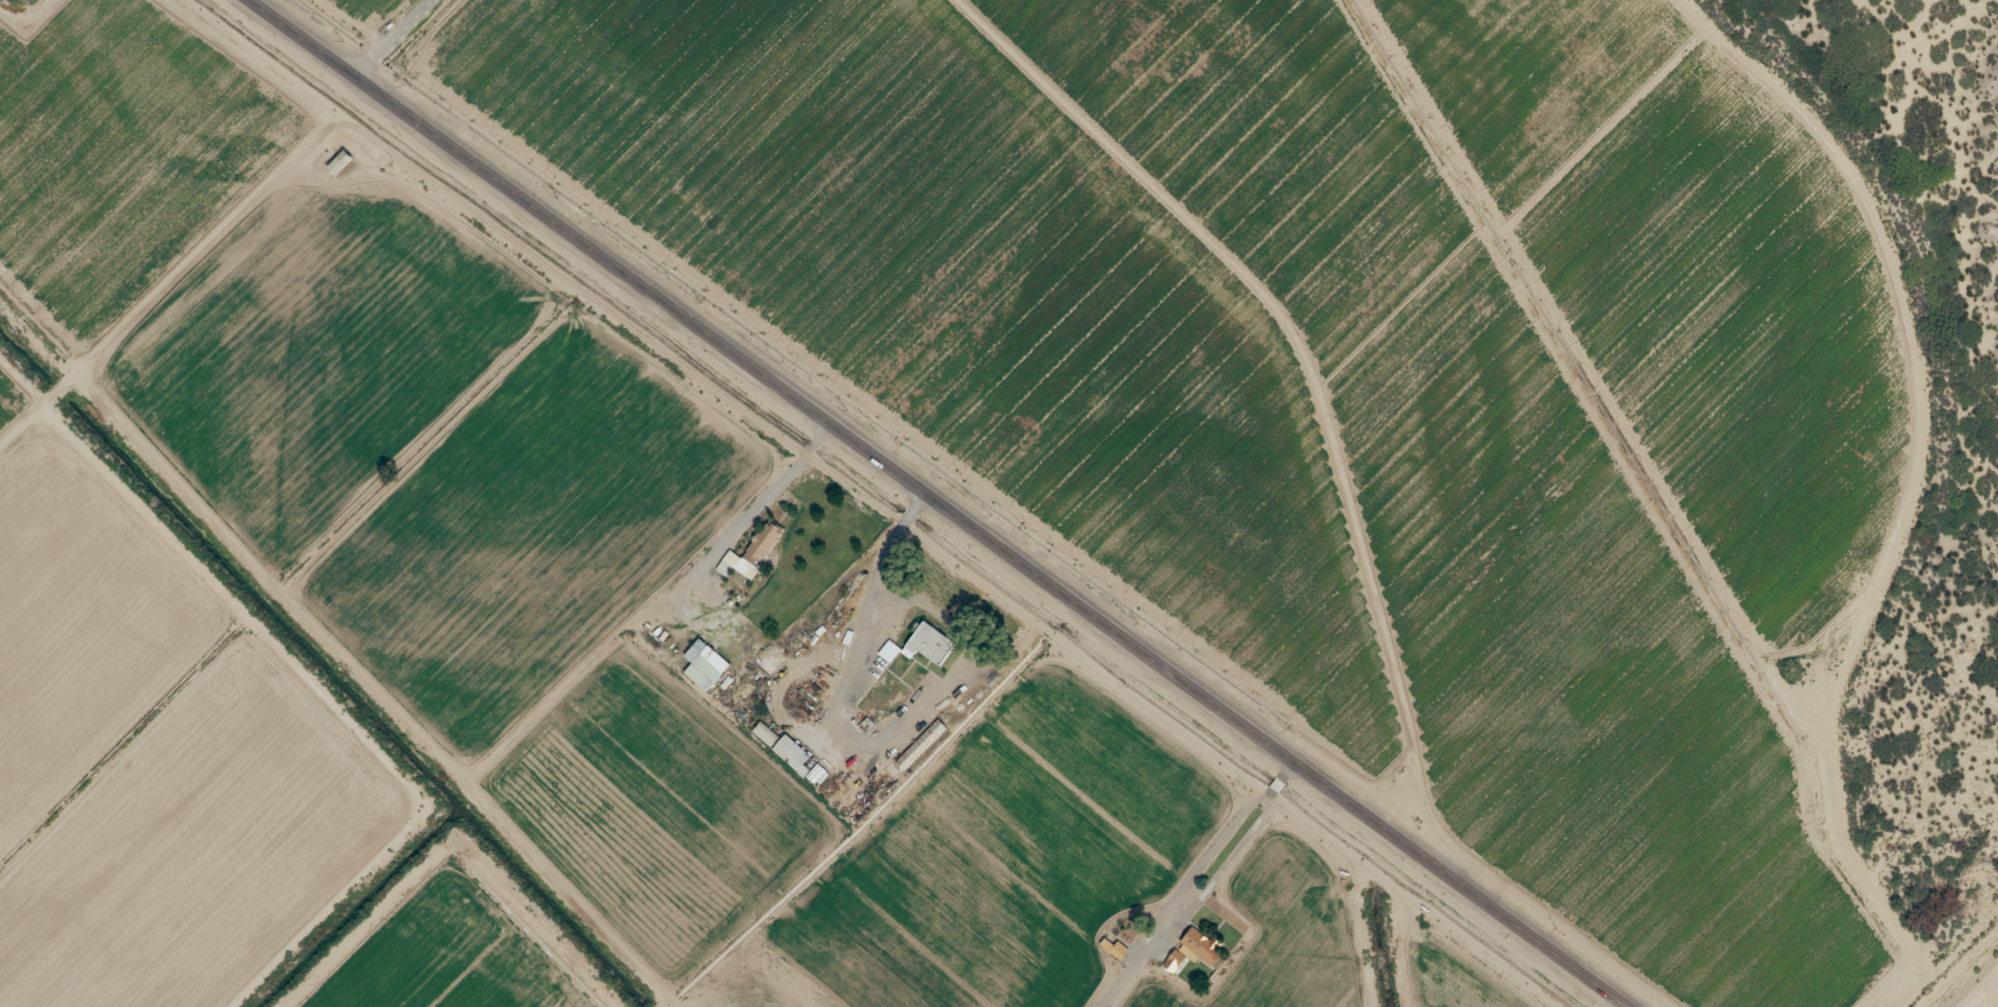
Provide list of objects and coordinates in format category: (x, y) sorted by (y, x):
road: (394, 41)
road: (179, 289)
road: (20, 432)
road: (929, 505)
building: (926, 638)
building: (890, 649)
building: (707, 666)
road: (1228, 895)
road: (478, 914)
building: (1198, 944)

